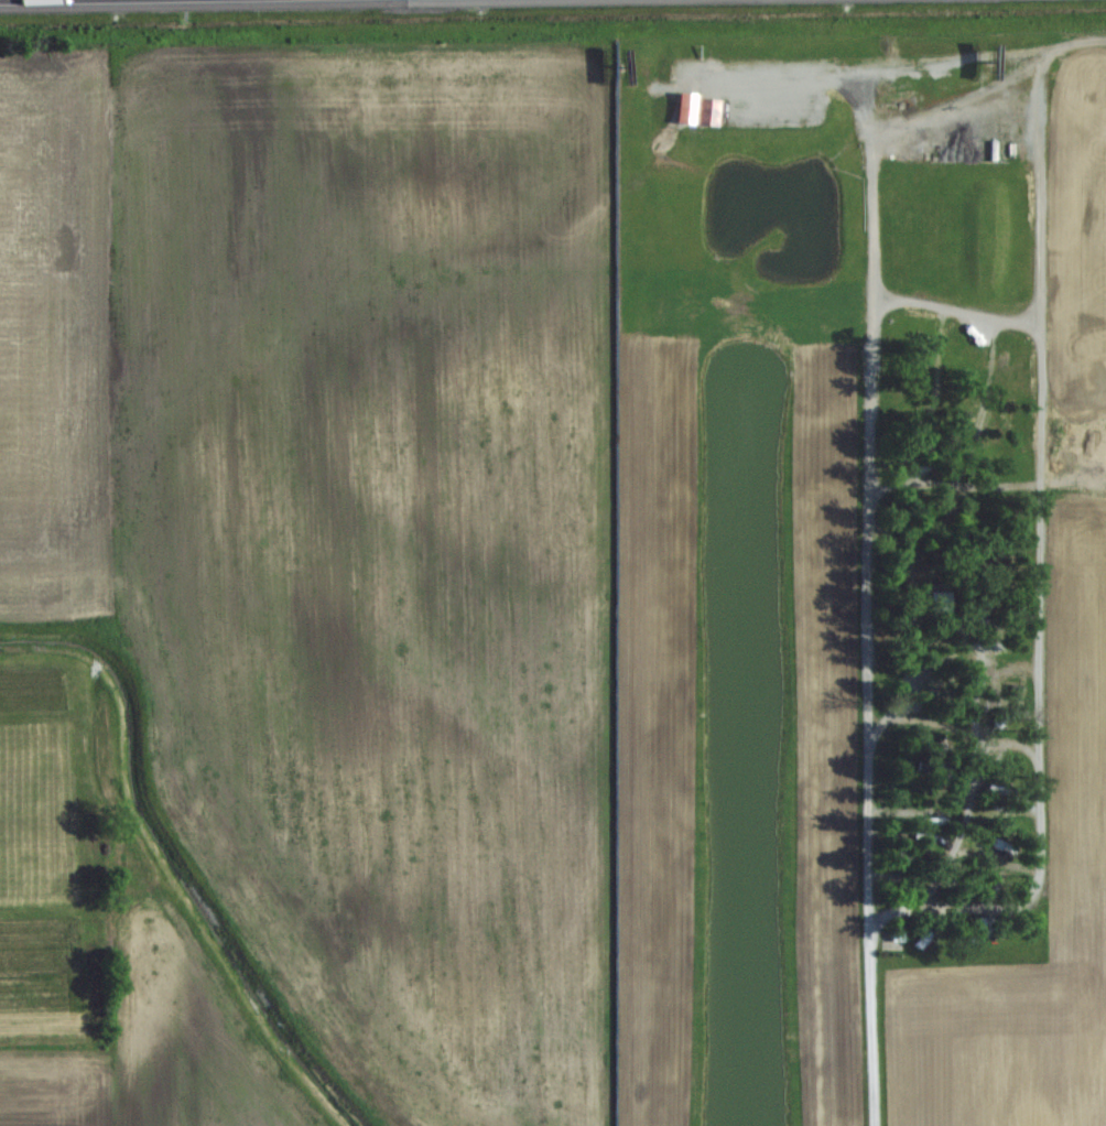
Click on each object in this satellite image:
road: (864, 111)
road: (953, 115)
road: (864, 515)
building: (939, 602)
road: (1037, 632)

